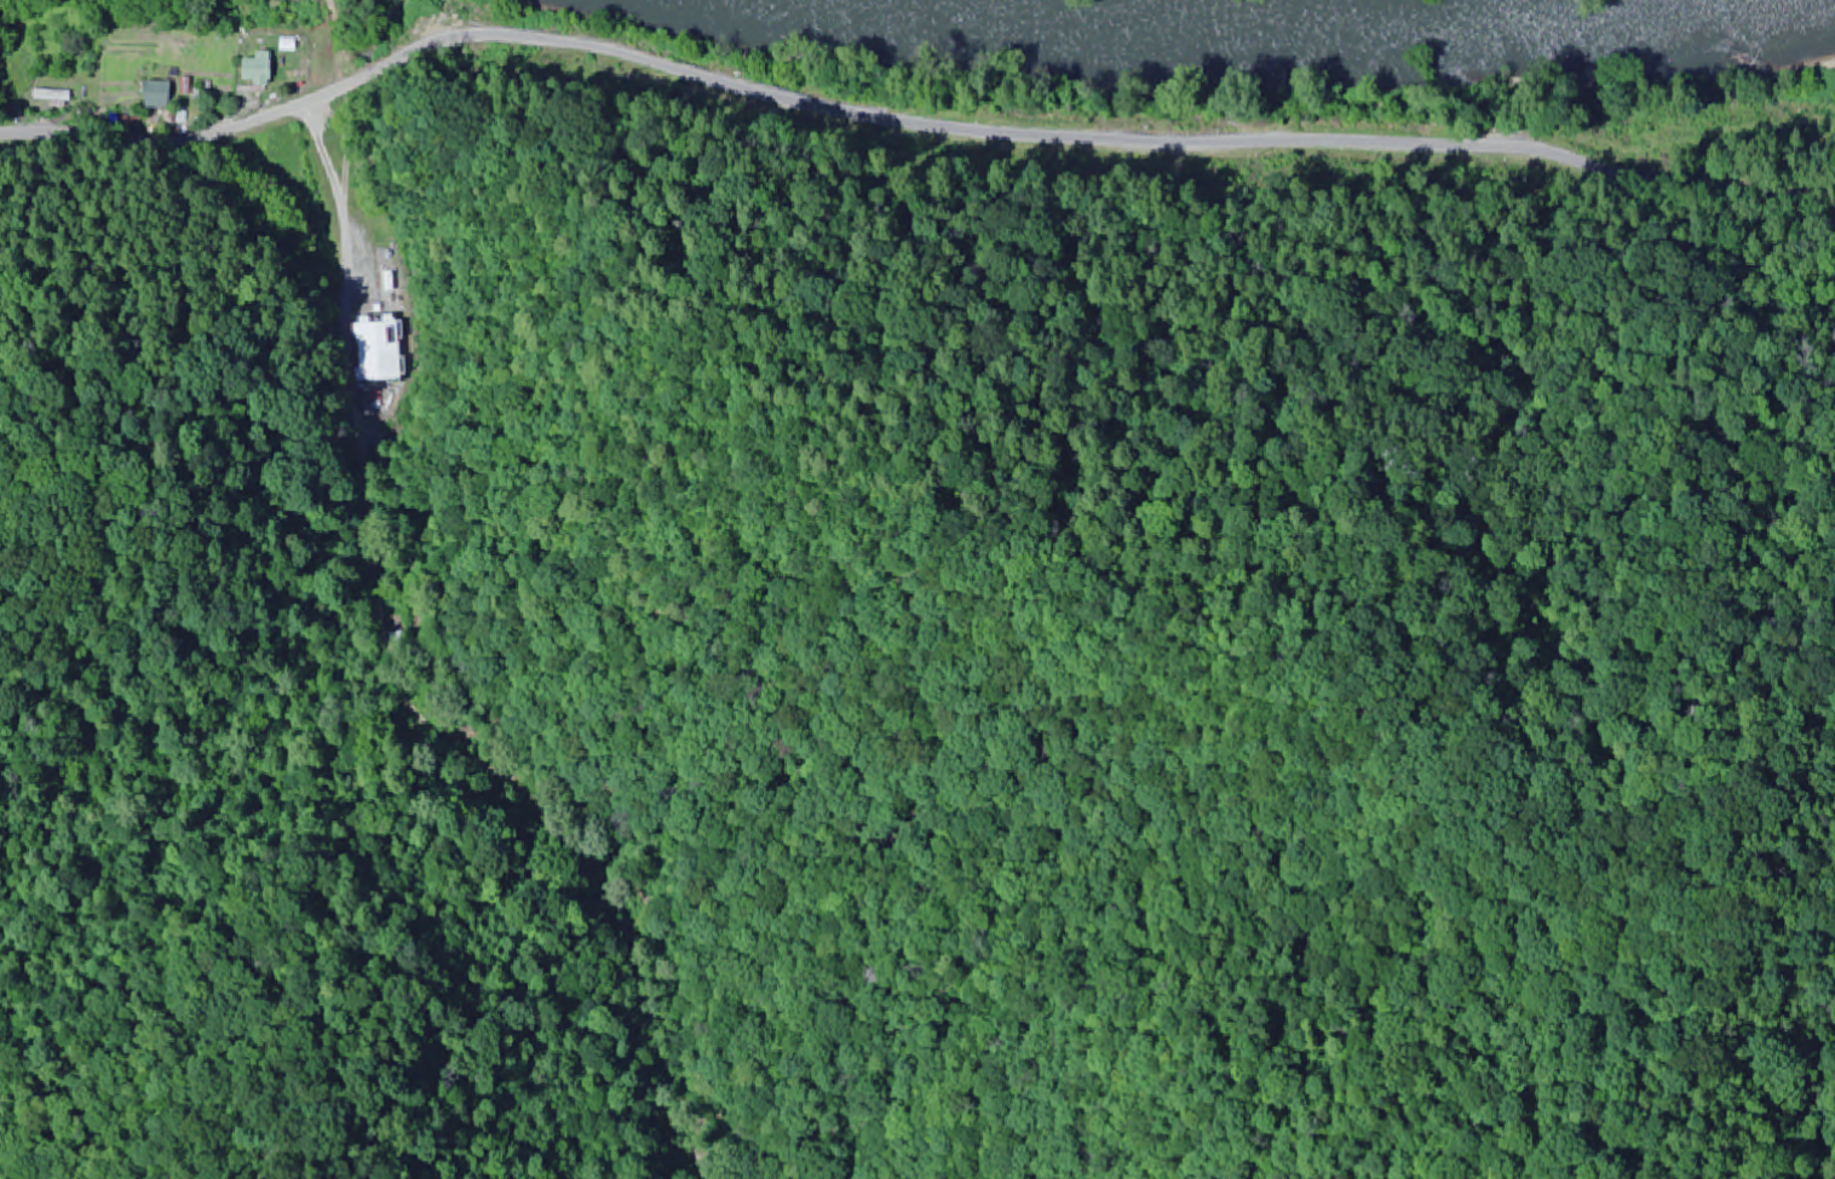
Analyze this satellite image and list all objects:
river: (1325, 41)
building: (251, 70)
building: (154, 96)
road: (911, 131)
road: (1722, 337)
building: (379, 353)

